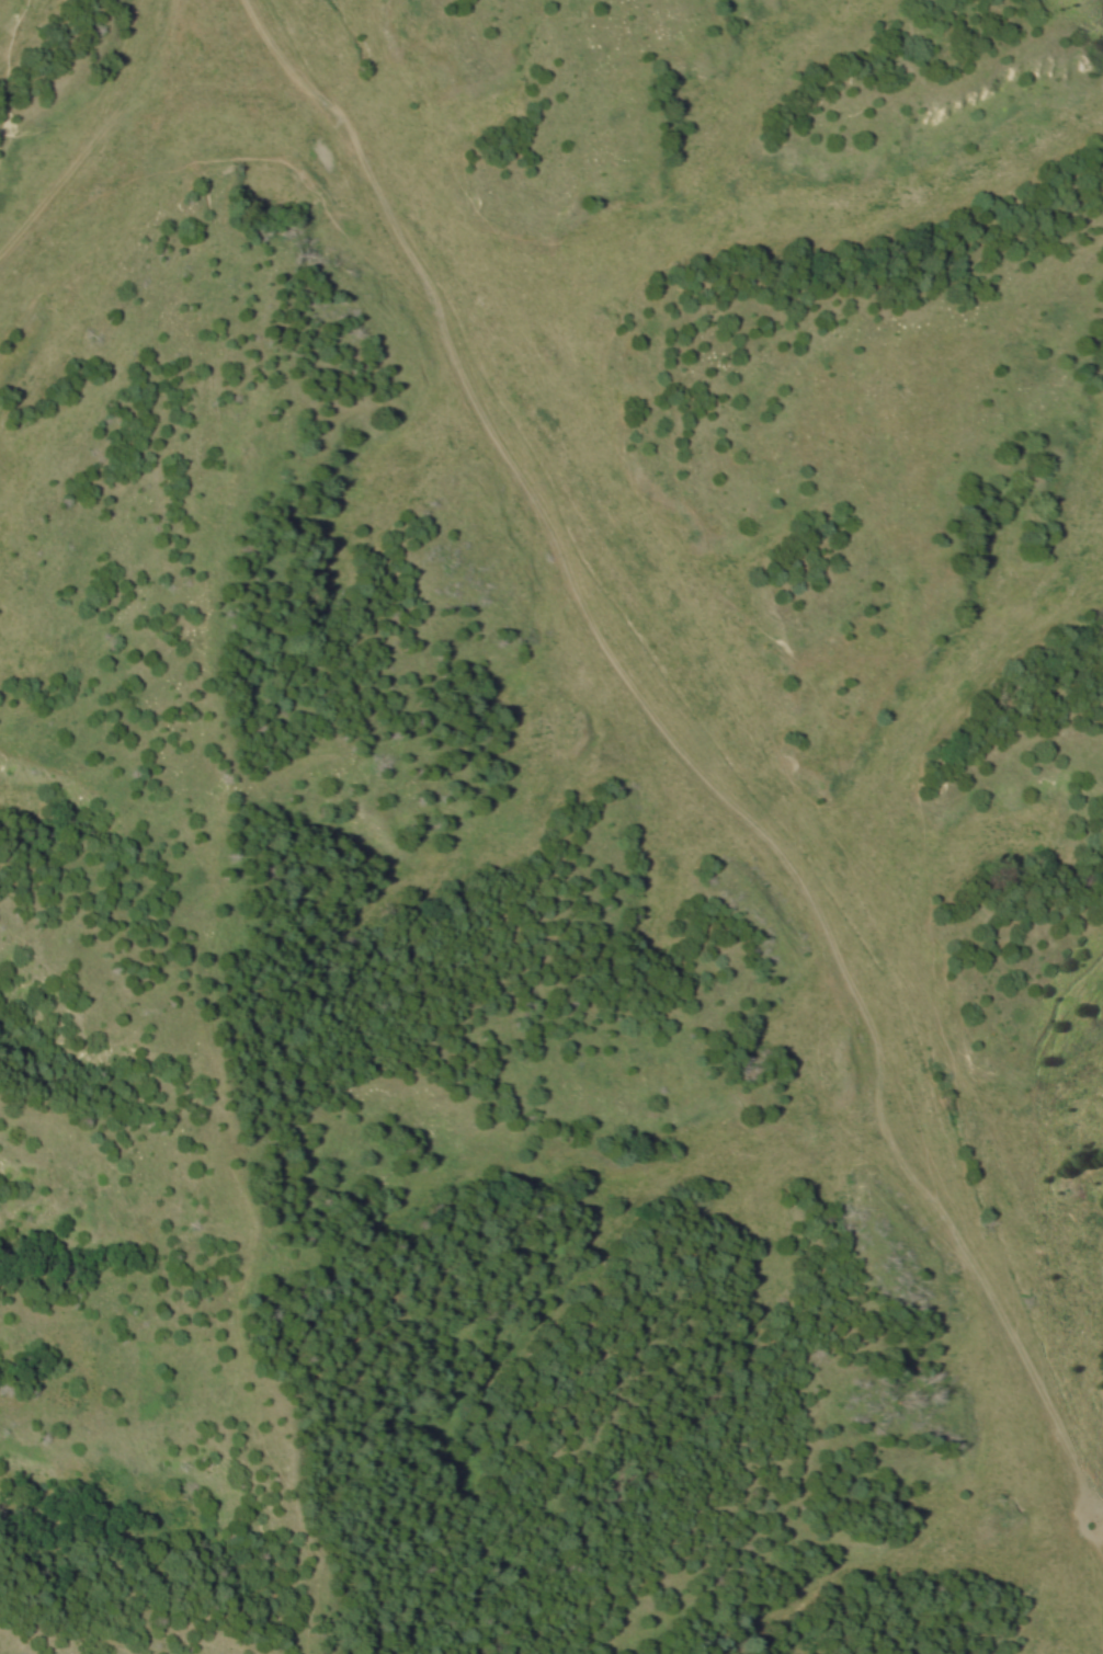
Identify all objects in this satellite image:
road: (87, 130)
road: (675, 758)

